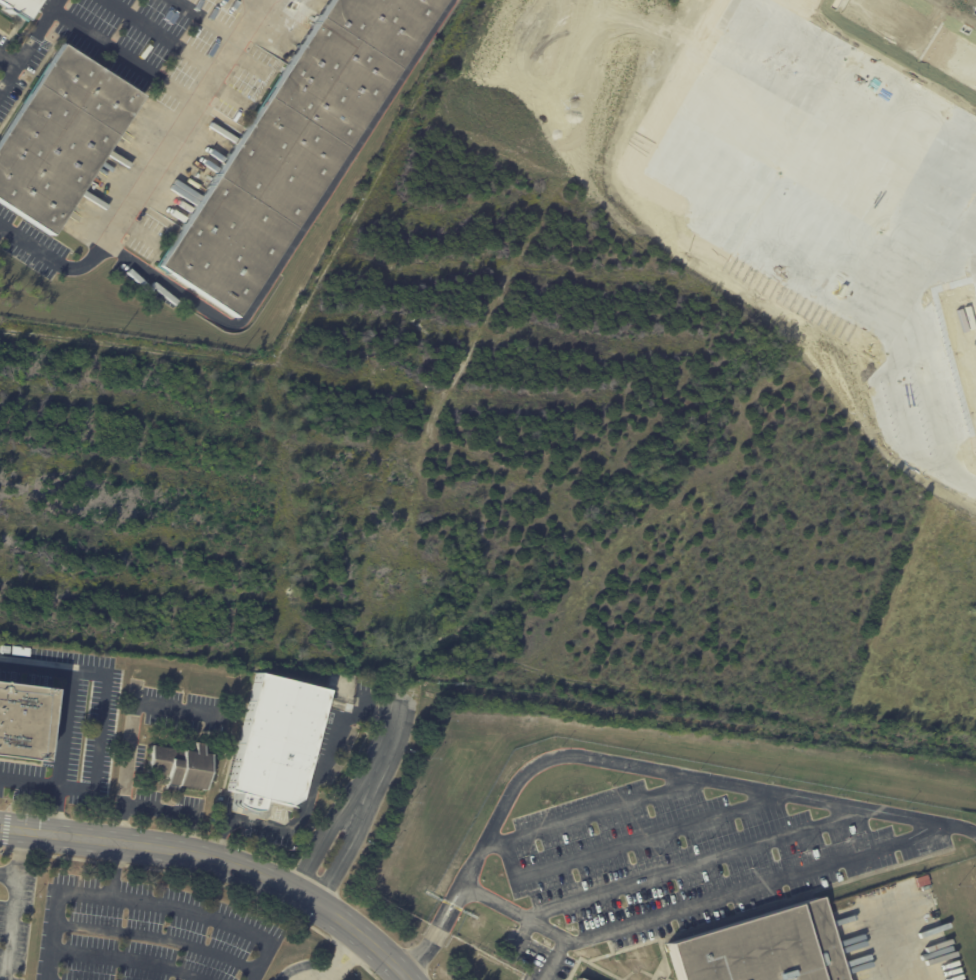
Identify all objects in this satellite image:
building: (21, 7)
road: (208, 18)
road: (161, 35)
road: (29, 45)
road: (124, 54)
road: (8, 60)
road: (183, 120)
building: (62, 138)
building: (297, 147)
road: (305, 231)
road: (53, 259)
building: (6, 649)
building: (22, 651)
road: (35, 662)
road: (357, 693)
road: (105, 694)
building: (25, 723)
road: (132, 731)
road: (384, 736)
building: (276, 742)
road: (632, 764)
building: (182, 766)
road: (29, 781)
road: (304, 797)
road: (179, 809)
road: (11, 828)
road: (325, 834)
road: (346, 845)
road: (20, 853)
parking lot: (673, 862)
road: (690, 863)
road: (233, 864)
road: (116, 869)
road: (9, 874)
road: (751, 886)
building: (854, 899)
road: (54, 911)
road: (210, 916)
road: (533, 922)
road: (12, 928)
parking lot: (149, 933)
road: (912, 944)
road: (342, 947)
building: (761, 948)
road: (355, 958)
road: (329, 974)
building: (579, 978)

